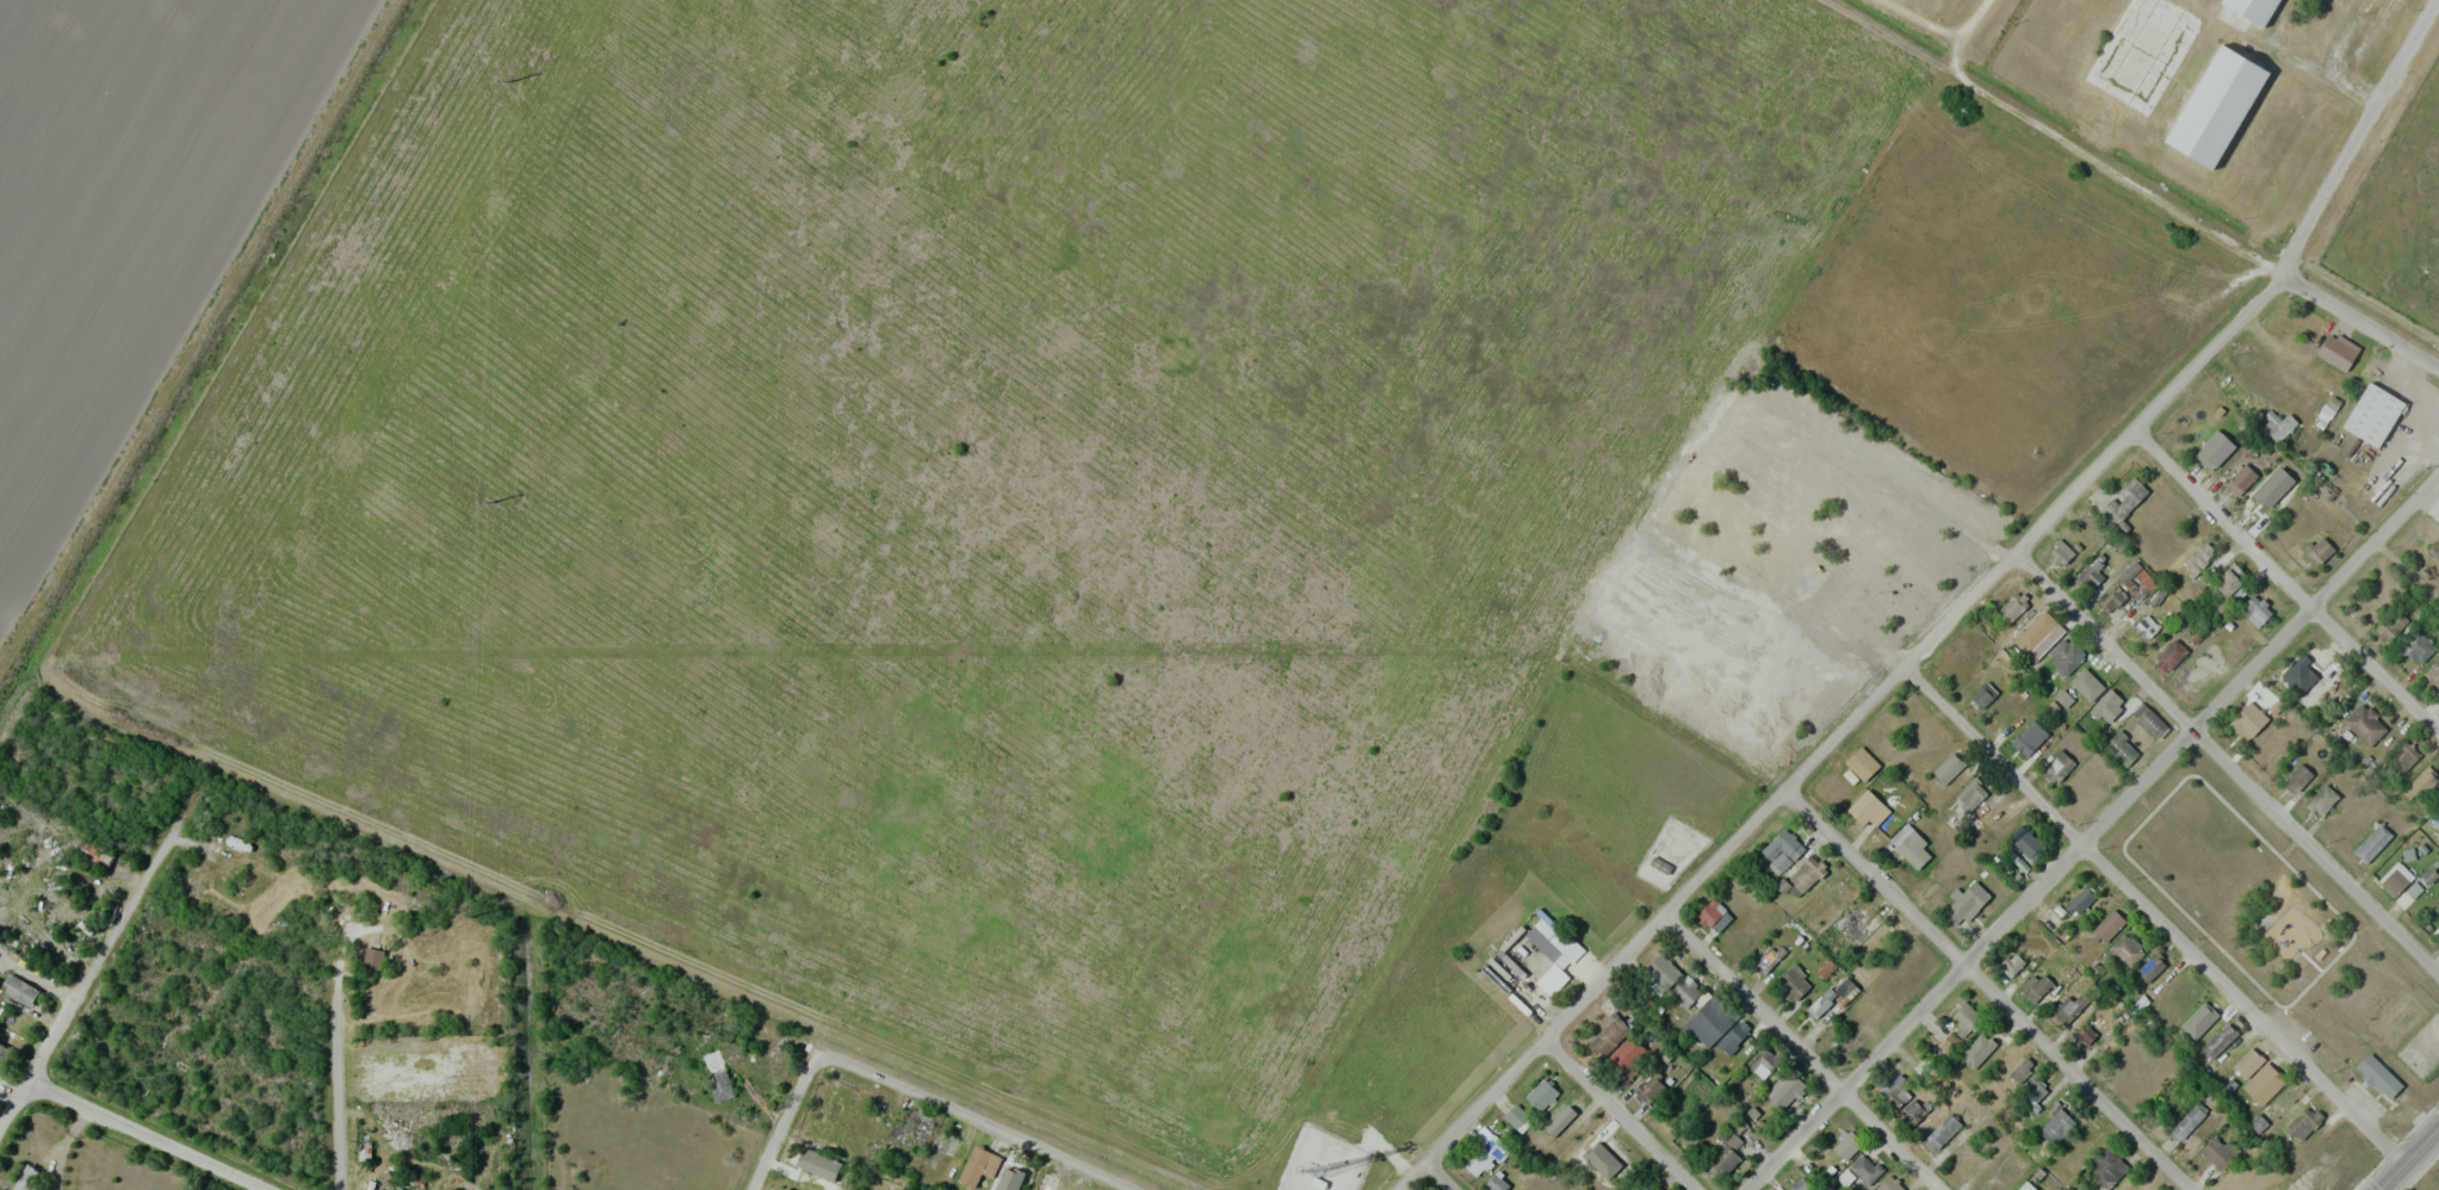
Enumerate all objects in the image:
building: (2254, 13)
road: (1975, 35)
building: (2142, 56)
power tower: (507, 82)
building: (2220, 112)
road: (2358, 140)
road: (2135, 184)
building: (2335, 352)
building: (2372, 421)
building: (2215, 448)
building: (2242, 477)
building: (2267, 491)
power tower: (490, 502)
building: (2123, 502)
building: (1820, 522)
building: (2317, 551)
building: (2061, 552)
building: (2197, 559)
building: (1901, 570)
building: (2088, 576)
building: (2228, 583)
road: (2293, 584)
building: (2111, 600)
building: (2012, 607)
building: (2390, 624)
building: (2146, 626)
building: (2036, 628)
building: (2418, 646)
building: (2171, 652)
building: (2065, 655)
building: (2307, 664)
building: (2202, 669)
building: (2432, 676)
building: (2086, 683)
building: (1983, 694)
building: (2107, 705)
building: (2252, 718)
building: (2148, 719)
road: (1853, 721)
building: (2364, 724)
building: (2029, 738)
building: (2122, 748)
building: (2404, 755)
building: (2057, 767)
road: (2230, 767)
building: (1948, 768)
building: (2297, 777)
building: (2422, 782)
building: (1970, 794)
building: (2322, 799)
building: (1868, 808)
building: (2434, 812)
road: (2097, 836)
building: (2026, 843)
building: (2372, 843)
building: (1909, 845)
building: (1782, 849)
road: (2401, 869)
building: (1805, 875)
building: (2395, 878)
building: (1966, 901)
building: (2080, 901)
building: (1714, 916)
power tower: (473, 917)
road: (2155, 917)
building: (2050, 919)
building: (1852, 923)
building: (2107, 926)
building: (1878, 937)
building: (2125, 949)
building: (1535, 952)
building: (1770, 957)
building: (372, 959)
building: (2012, 965)
building: (2152, 966)
building: (1663, 971)
building: (1793, 983)
road: (1991, 986)
building: (2036, 986)
road: (83, 987)
building: (19, 990)
building: (1684, 992)
building: (1833, 997)
building: (1962, 1018)
building: (1709, 1021)
building: (2195, 1024)
building: (2085, 1033)
building: (1609, 1035)
building: (1734, 1036)
building: (2218, 1040)
building: (1986, 1045)
road: (1802, 1053)
building: (1624, 1054)
building: (4, 1055)
building: (1762, 1061)
building: (2247, 1062)
road: (346, 1064)
building: (2020, 1068)
building: (716, 1076)
building: (2378, 1076)
building: (2264, 1083)
building: (1785, 1089)
building: (1896, 1091)
building: (2033, 1091)
building: (1541, 1095)
building: (1913, 1110)
road: (1623, 1115)
building: (1517, 1117)
building: (2187, 1122)
building: (2304, 1122)
road: (784, 1123)
road: (965, 1123)
building: (2057, 1124)
building: (908, 1126)
building: (1940, 1133)
road: (144, 1135)
building: (945, 1143)
building: (1846, 1145)
building: (364, 1149)
building: (1486, 1151)
building: (2217, 1153)
building: (1604, 1155)
building: (1722, 1155)
road: (2410, 1159)
building: (978, 1166)
building: (2106, 1167)
building: (1014, 1169)
building: (1865, 1169)
road: (1438, 1177)
building: (27, 1178)
building: (1496, 1183)
building: (1799, 1184)
building: (1888, 1184)
building: (1640, 1185)
building: (380, 1189)
building: (788, 1189)
building: (2428, 1189)

